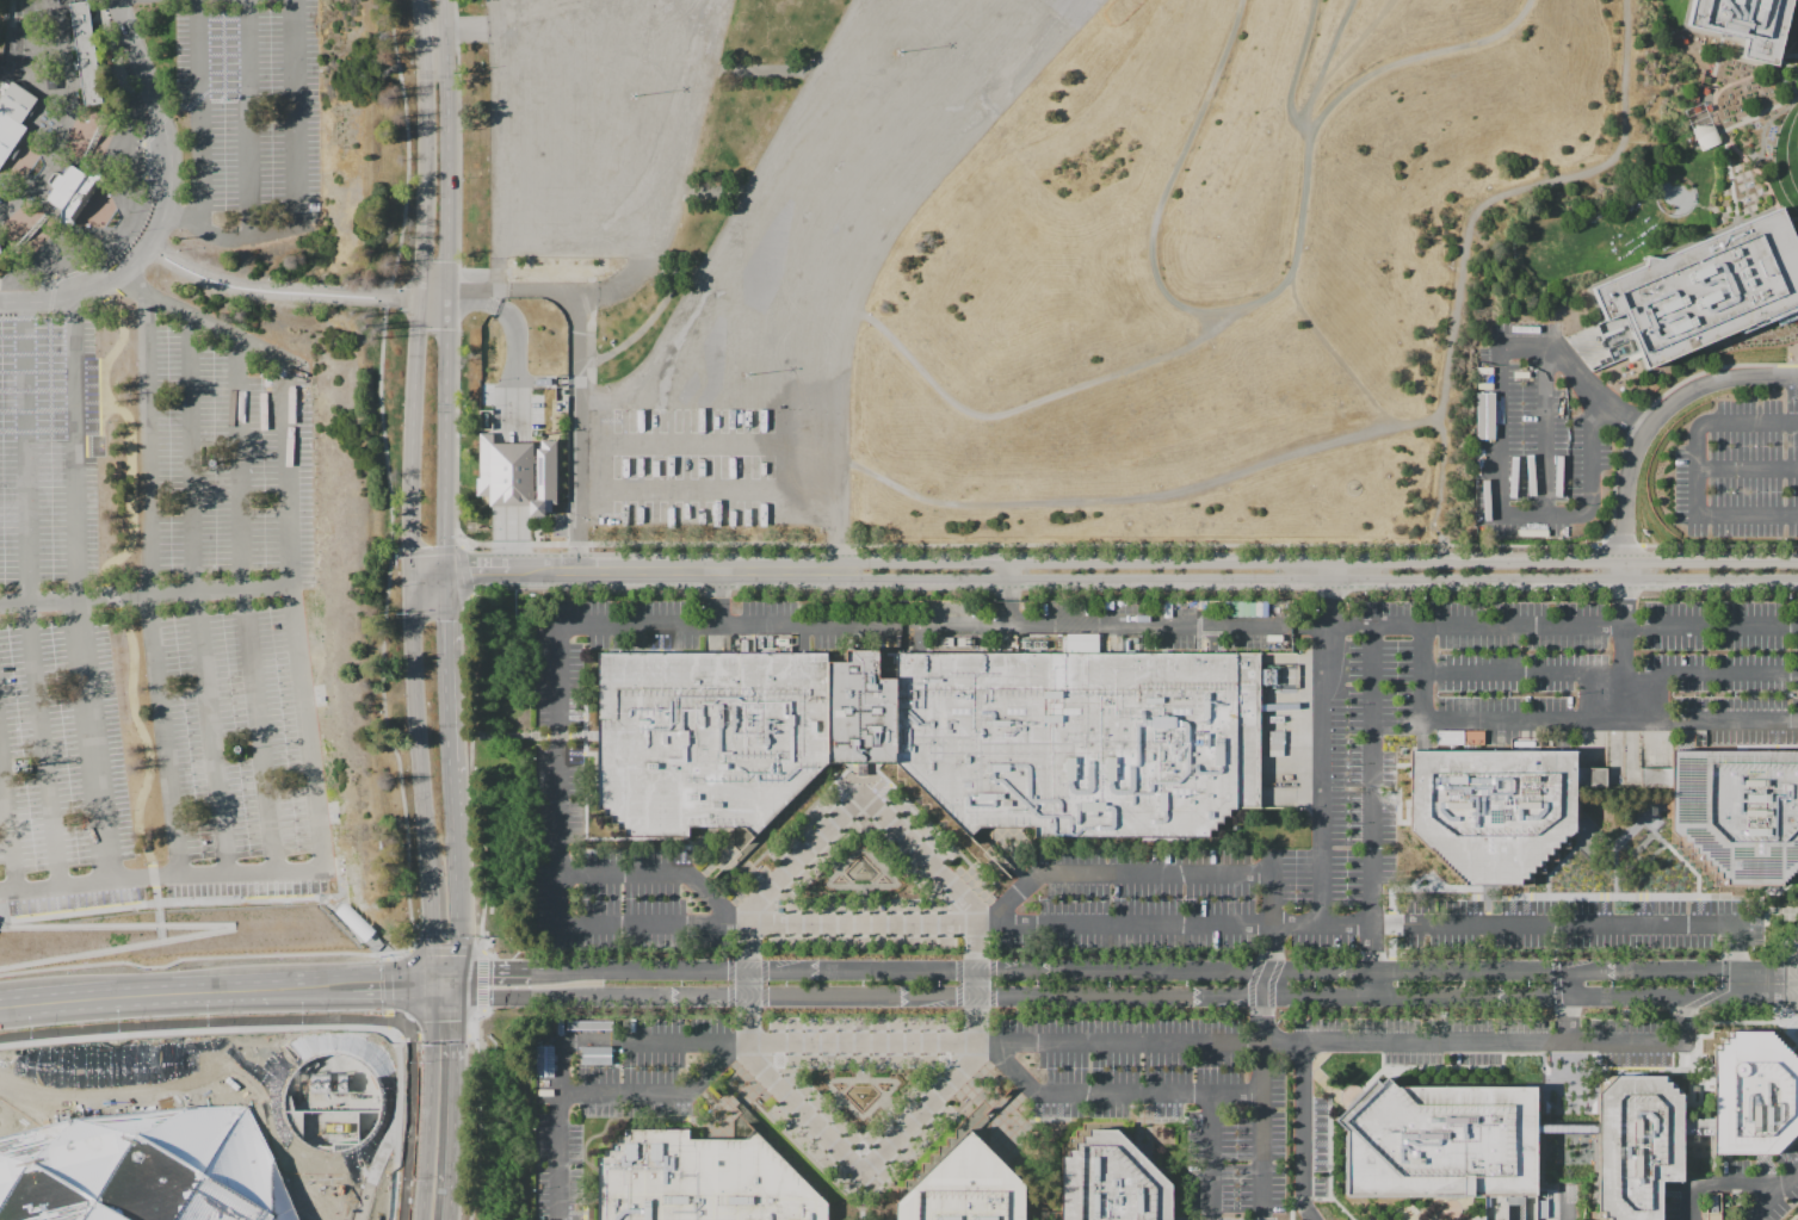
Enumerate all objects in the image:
building: (1744, 24)
road: (453, 27)
road: (1691, 29)
building: (84, 51)
street lamp: (896, 51)
road: (1341, 60)
road: (1759, 72)
road: (764, 73)
building: (49, 80)
road: (1352, 87)
street lamp: (632, 94)
street lamp: (222, 98)
road: (294, 103)
parking lot: (251, 105)
road: (198, 113)
building: (12, 114)
road: (1760, 116)
road: (58, 117)
road: (246, 118)
parking lot: (595, 122)
road: (93, 134)
road: (1729, 141)
road: (1174, 173)
road: (1730, 178)
road: (1305, 179)
road: (136, 181)
building: (70, 191)
road: (712, 194)
road: (165, 202)
flagpole: (128, 211)
road: (1792, 219)
building: (562, 228)
flagpole: (130, 230)
road: (1468, 230)
flagpole: (111, 236)
road: (30, 237)
road: (234, 237)
road: (1698, 241)
road: (1639, 264)
park: (1227, 268)
parking lot: (809, 270)
road: (668, 277)
road: (419, 284)
road: (445, 284)
building: (1705, 287)
road: (290, 290)
road: (552, 293)
road: (1787, 310)
building: (1786, 315)
road: (202, 320)
road: (637, 334)
road: (1717, 340)
road: (1339, 358)
road: (1787, 360)
road: (1645, 366)
street lamp: (743, 373)
road: (1596, 388)
road: (1028, 404)
road: (509, 408)
building: (245, 411)
road: (1648, 411)
road: (577, 432)
road: (1545, 432)
parking lot: (1538, 433)
road: (146, 442)
road: (1499, 444)
road: (74, 446)
parking lot: (48, 447)
road: (25, 451)
road: (189, 451)
parking lot: (218, 456)
street lamp: (212, 462)
road: (237, 462)
road: (1748, 467)
building: (167, 470)
road: (1698, 470)
parking lot: (1738, 470)
road: (387, 473)
building: (517, 473)
road: (286, 475)
road: (1627, 489)
road: (1148, 498)
building: (58, 530)
building: (254, 534)
road: (1101, 545)
road: (836, 547)
road: (1320, 562)
road: (103, 570)
road: (470, 570)
road: (687, 570)
road: (1318, 580)
road: (1007, 581)
road: (144, 594)
road: (717, 596)
road: (1007, 612)
road: (1096, 624)
road: (1545, 624)
building: (245, 642)
road: (443, 665)
road: (1611, 674)
street lamp: (1435, 694)
street lamp: (1507, 694)
street lamp: (1576, 694)
street lamp: (1732, 694)
building: (861, 711)
road: (1563, 720)
road: (257, 729)
road: (209, 731)
road: (161, 733)
road: (533, 733)
road: (89, 738)
building: (706, 738)
building: (1083, 741)
road: (1326, 742)
road: (41, 743)
street lamp: (236, 748)
parking lot: (236, 749)
building: (75, 753)
road: (470, 755)
road: (595, 761)
parking lot: (1353, 762)
street lamp: (21, 766)
road: (597, 768)
building: (5, 769)
parking lot: (61, 769)
road: (419, 778)
road: (882, 778)
building: (1592, 778)
building: (1655, 778)
road: (845, 793)
road: (879, 793)
road: (315, 807)
road: (1372, 811)
building: (1493, 811)
building: (1738, 813)
road: (797, 820)
road: (927, 820)
road: (7, 825)
road: (824, 850)
building: (32, 851)
road: (901, 851)
road: (453, 863)
road: (1148, 873)
road: (654, 875)
road: (699, 878)
road: (1025, 878)
road: (152, 880)
road: (75, 883)
road: (1000, 883)
road: (154, 886)
road: (883, 890)
road: (206, 899)
road: (750, 899)
road: (1583, 900)
road: (156, 902)
road: (976, 902)
road: (737, 905)
road: (1747, 906)
road: (863, 910)
road: (1493, 915)
road: (1494, 918)
building: (353, 919)
road: (1624, 919)
road: (157, 923)
road: (859, 923)
road: (1269, 924)
road: (1748, 925)
road: (227, 928)
road: (160, 937)
traffic signals: (428, 942)
road: (445, 950)
road: (482, 950)
road: (204, 955)
road: (385, 955)
road: (396, 955)
traffic signals: (490, 968)
road: (493, 968)
road: (546, 968)
road: (1151, 973)
road: (1791, 974)
road: (443, 977)
road: (482, 979)
road: (457, 981)
road: (387, 983)
road: (397, 984)
road: (1762, 984)
road: (373, 985)
traffic signals: (377, 985)
parking lot: (1791, 985)
road: (290, 986)
road: (443, 990)
road: (976, 993)
road: (1791, 996)
road: (141, 997)
road: (1099, 997)
road: (1568, 1005)
road: (10, 1008)
road: (387, 1011)
road: (398, 1015)
road: (388, 1020)
road: (198, 1022)
road: (290, 1024)
road: (388, 1027)
road: (412, 1027)
road: (441, 1027)
road: (470, 1027)
road: (432, 1034)
road: (470, 1034)
road: (397, 1036)
road: (1056, 1041)
traffic signals: (457, 1045)
road: (1568, 1046)
road: (1687, 1046)
road: (1713, 1052)
road: (863, 1054)
building: (543, 1058)
road: (972, 1069)
road: (754, 1072)
parking lot: (1038, 1084)
road: (699, 1090)
road: (1027, 1091)
road: (657, 1094)
road: (1090, 1094)
building: (1754, 1095)
road: (1262, 1096)
road: (1145, 1098)
road: (428, 1102)
power substation: (330, 1103)
road: (894, 1104)
road: (455, 1107)
road: (478, 1111)
road: (824, 1116)
road: (900, 1116)
road: (408, 1117)
road: (1044, 1121)
road: (1199, 1122)
building: (1697, 1126)
road: (1155, 1127)
road: (1211, 1129)
road: (1303, 1132)
road: (711, 1139)
building: (1440, 1140)
building: (1637, 1144)
road: (1682, 1148)
road: (1539, 1154)
road: (1568, 1160)
building: (144, 1166)
road: (1549, 1166)
road: (1692, 1177)
building: (700, 1179)
building: (1113, 1181)
road: (1719, 1184)
building: (966, 1188)
parking lot: (1736, 1190)
road: (863, 1193)
road: (1772, 1194)
road: (586, 1203)
building: (1712, 1206)
road: (863, 1210)
building: (882, 1210)

